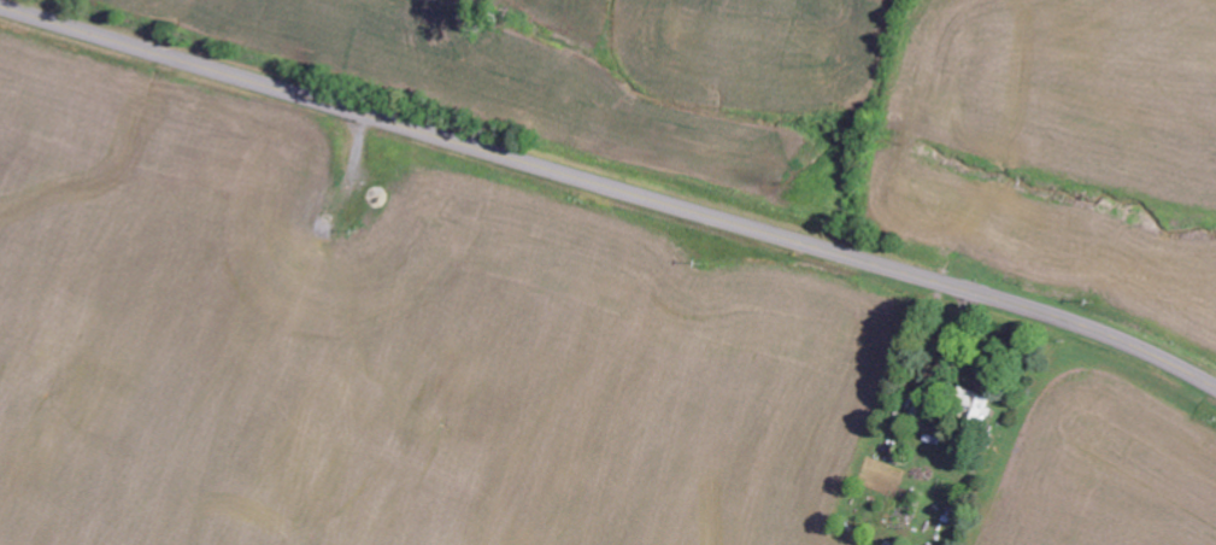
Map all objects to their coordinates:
road: (611, 186)

